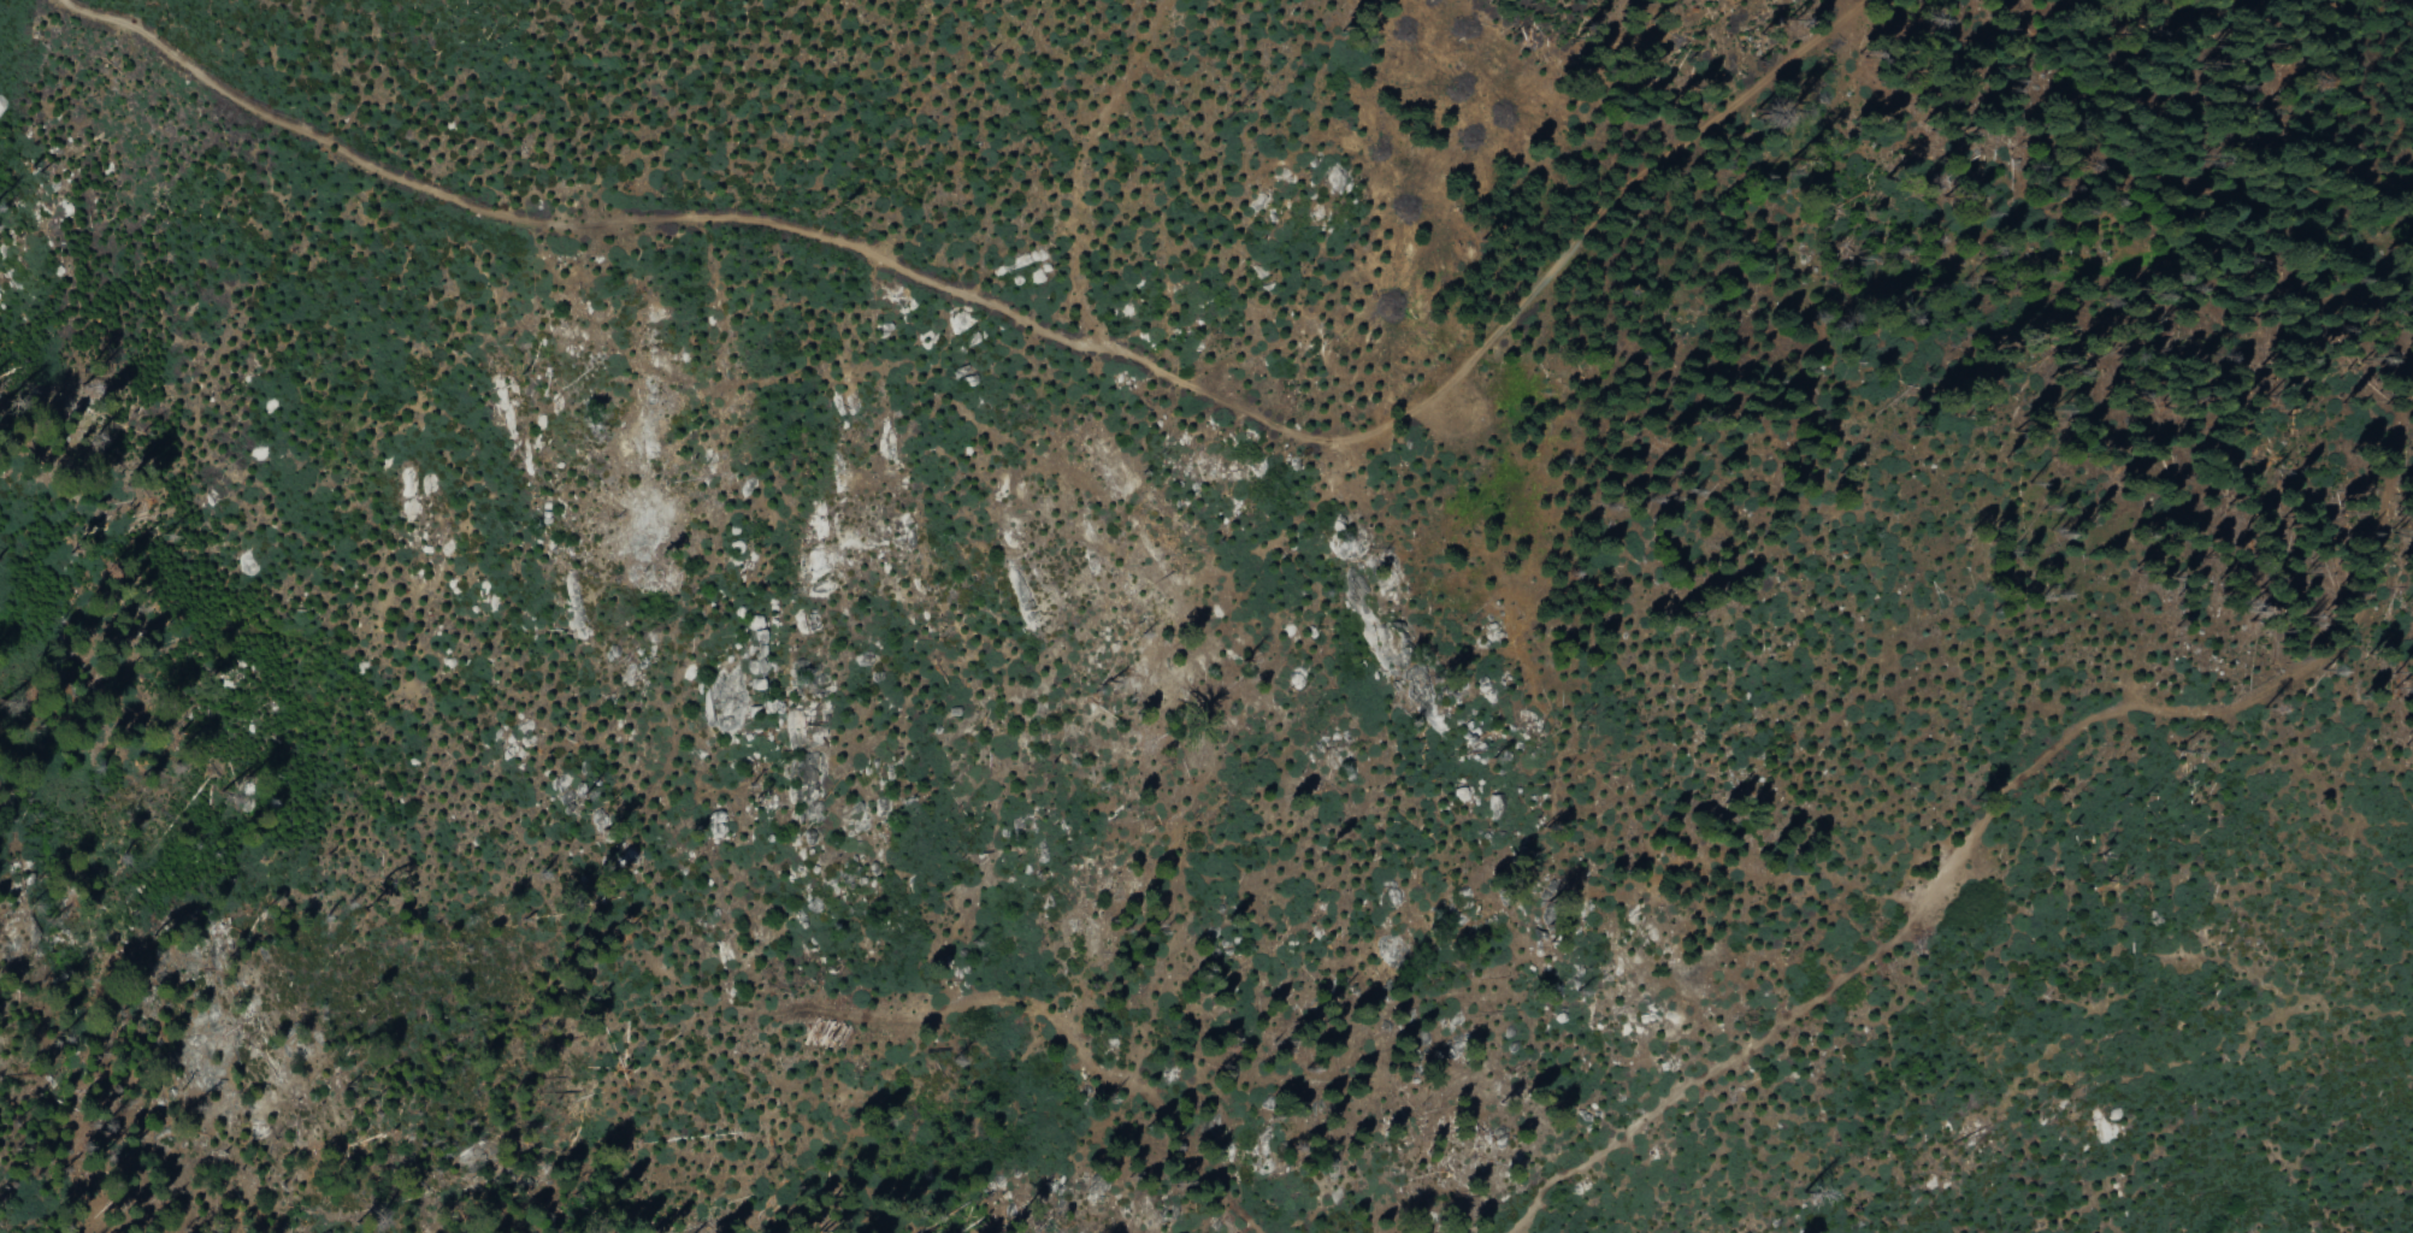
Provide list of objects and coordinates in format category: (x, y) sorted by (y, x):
road: (1571, 323)

